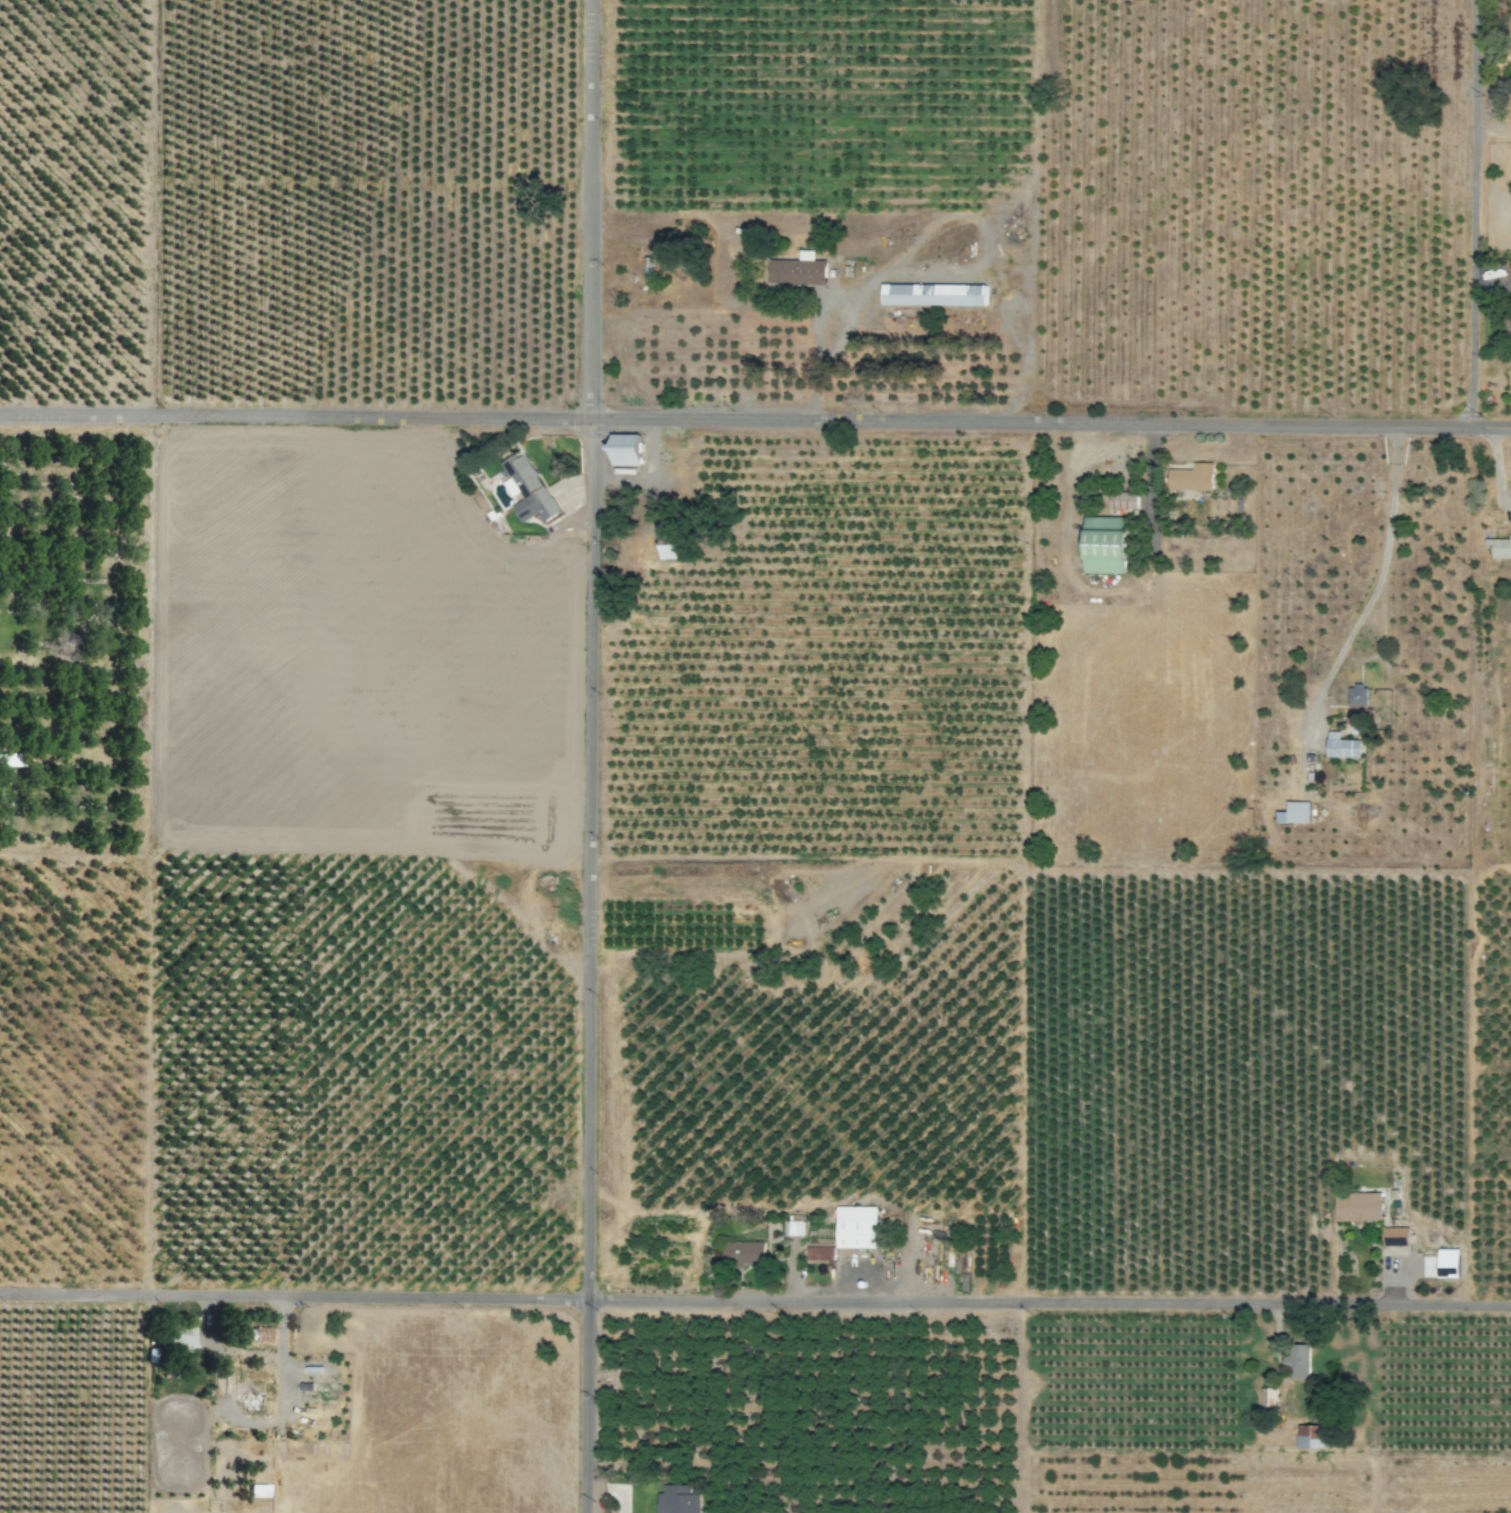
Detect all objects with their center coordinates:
road: (592, 207)
road: (1472, 212)
building: (798, 270)
building: (933, 295)
road: (295, 414)
road: (1051, 421)
building: (626, 450)
building: (1191, 478)
building: (526, 490)
building: (1122, 500)
building: (1105, 545)
building: (1501, 548)
road: (1372, 593)
building: (1358, 699)
building: (1342, 747)
building: (1294, 812)
road: (588, 964)
building: (1358, 1207)
building: (793, 1227)
building: (856, 1227)
building: (1396, 1236)
building: (743, 1252)
building: (819, 1253)
building: (1449, 1263)
road: (755, 1298)
building: (250, 1335)
building: (179, 1336)
building: (1298, 1361)
building: (253, 1393)
building: (316, 1394)
building: (1267, 1399)
building: (1312, 1436)
building: (256, 1491)
building: (677, 1499)

